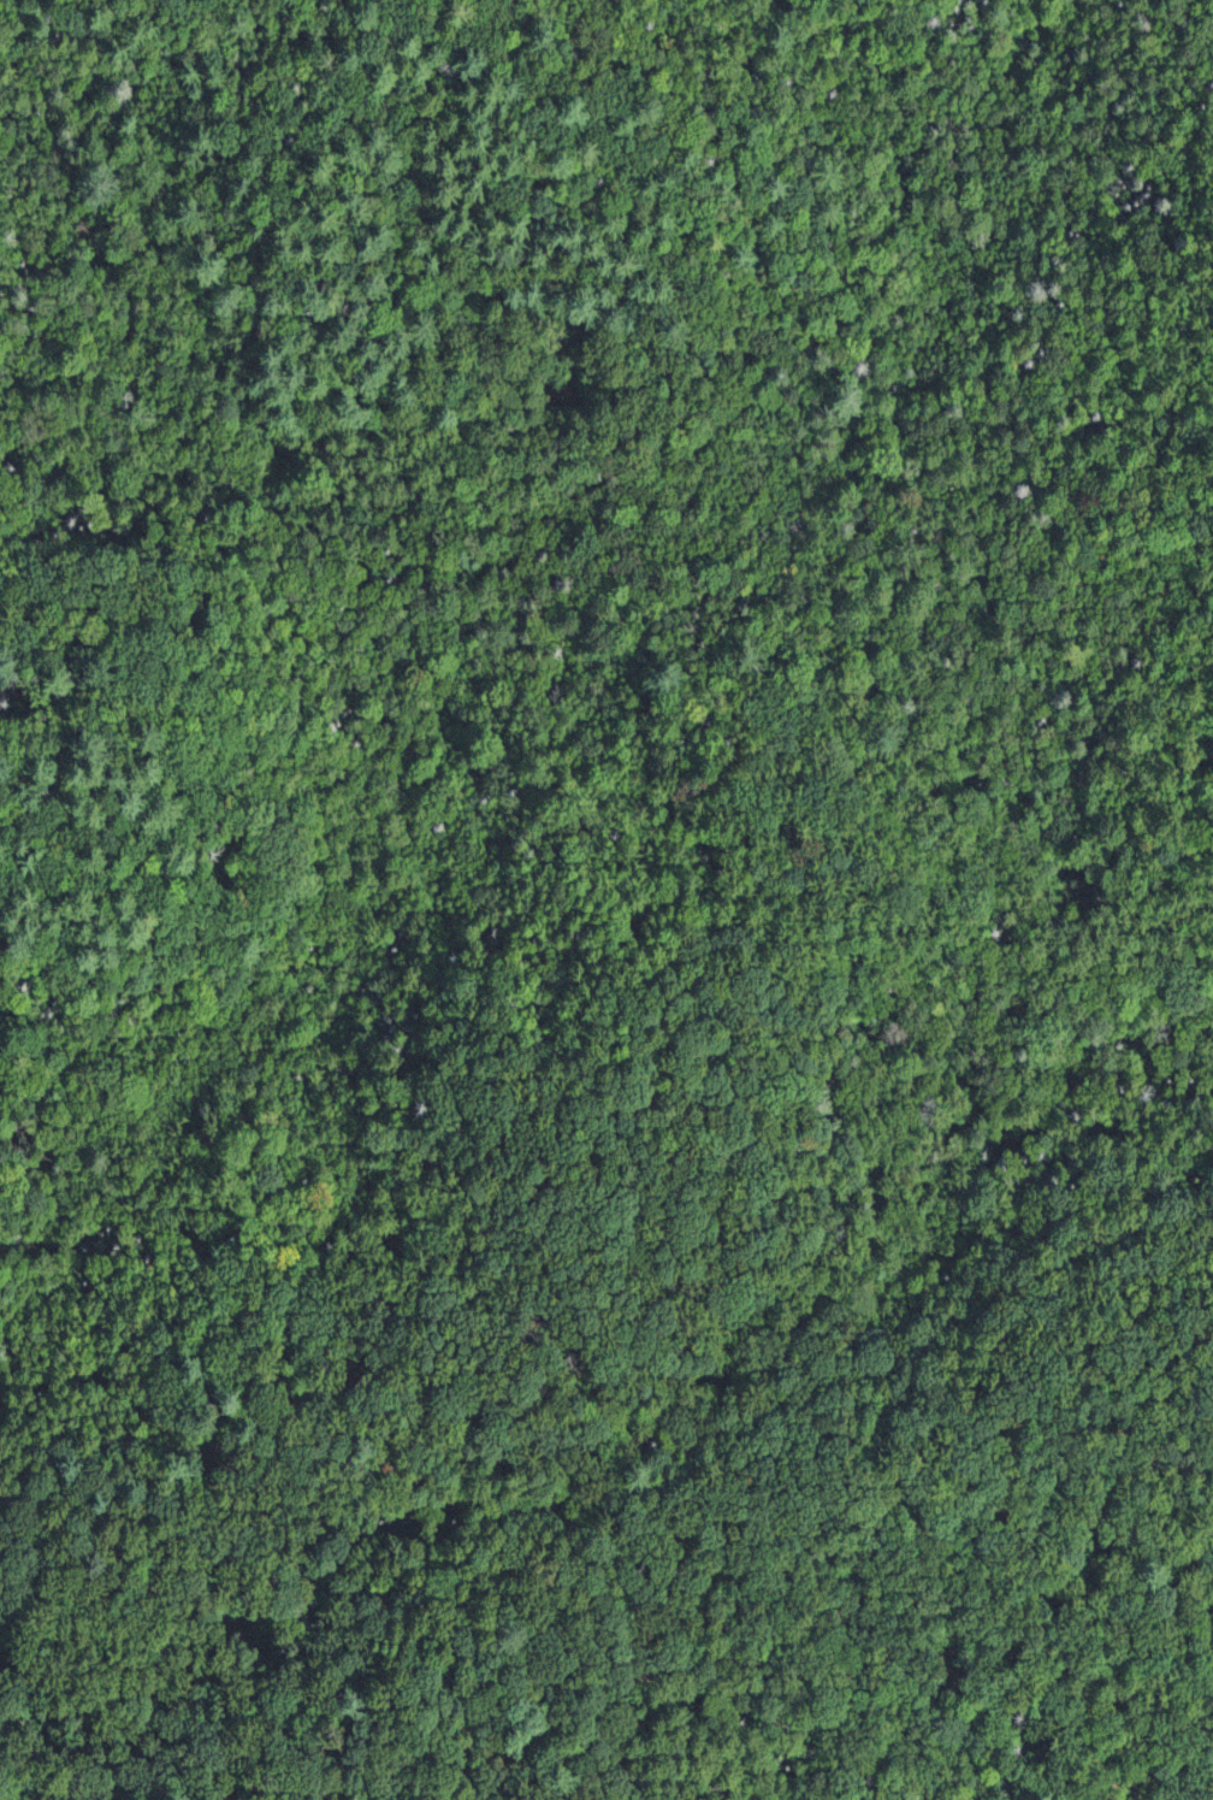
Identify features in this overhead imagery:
road: (573, 1545)
road: (1181, 1594)

